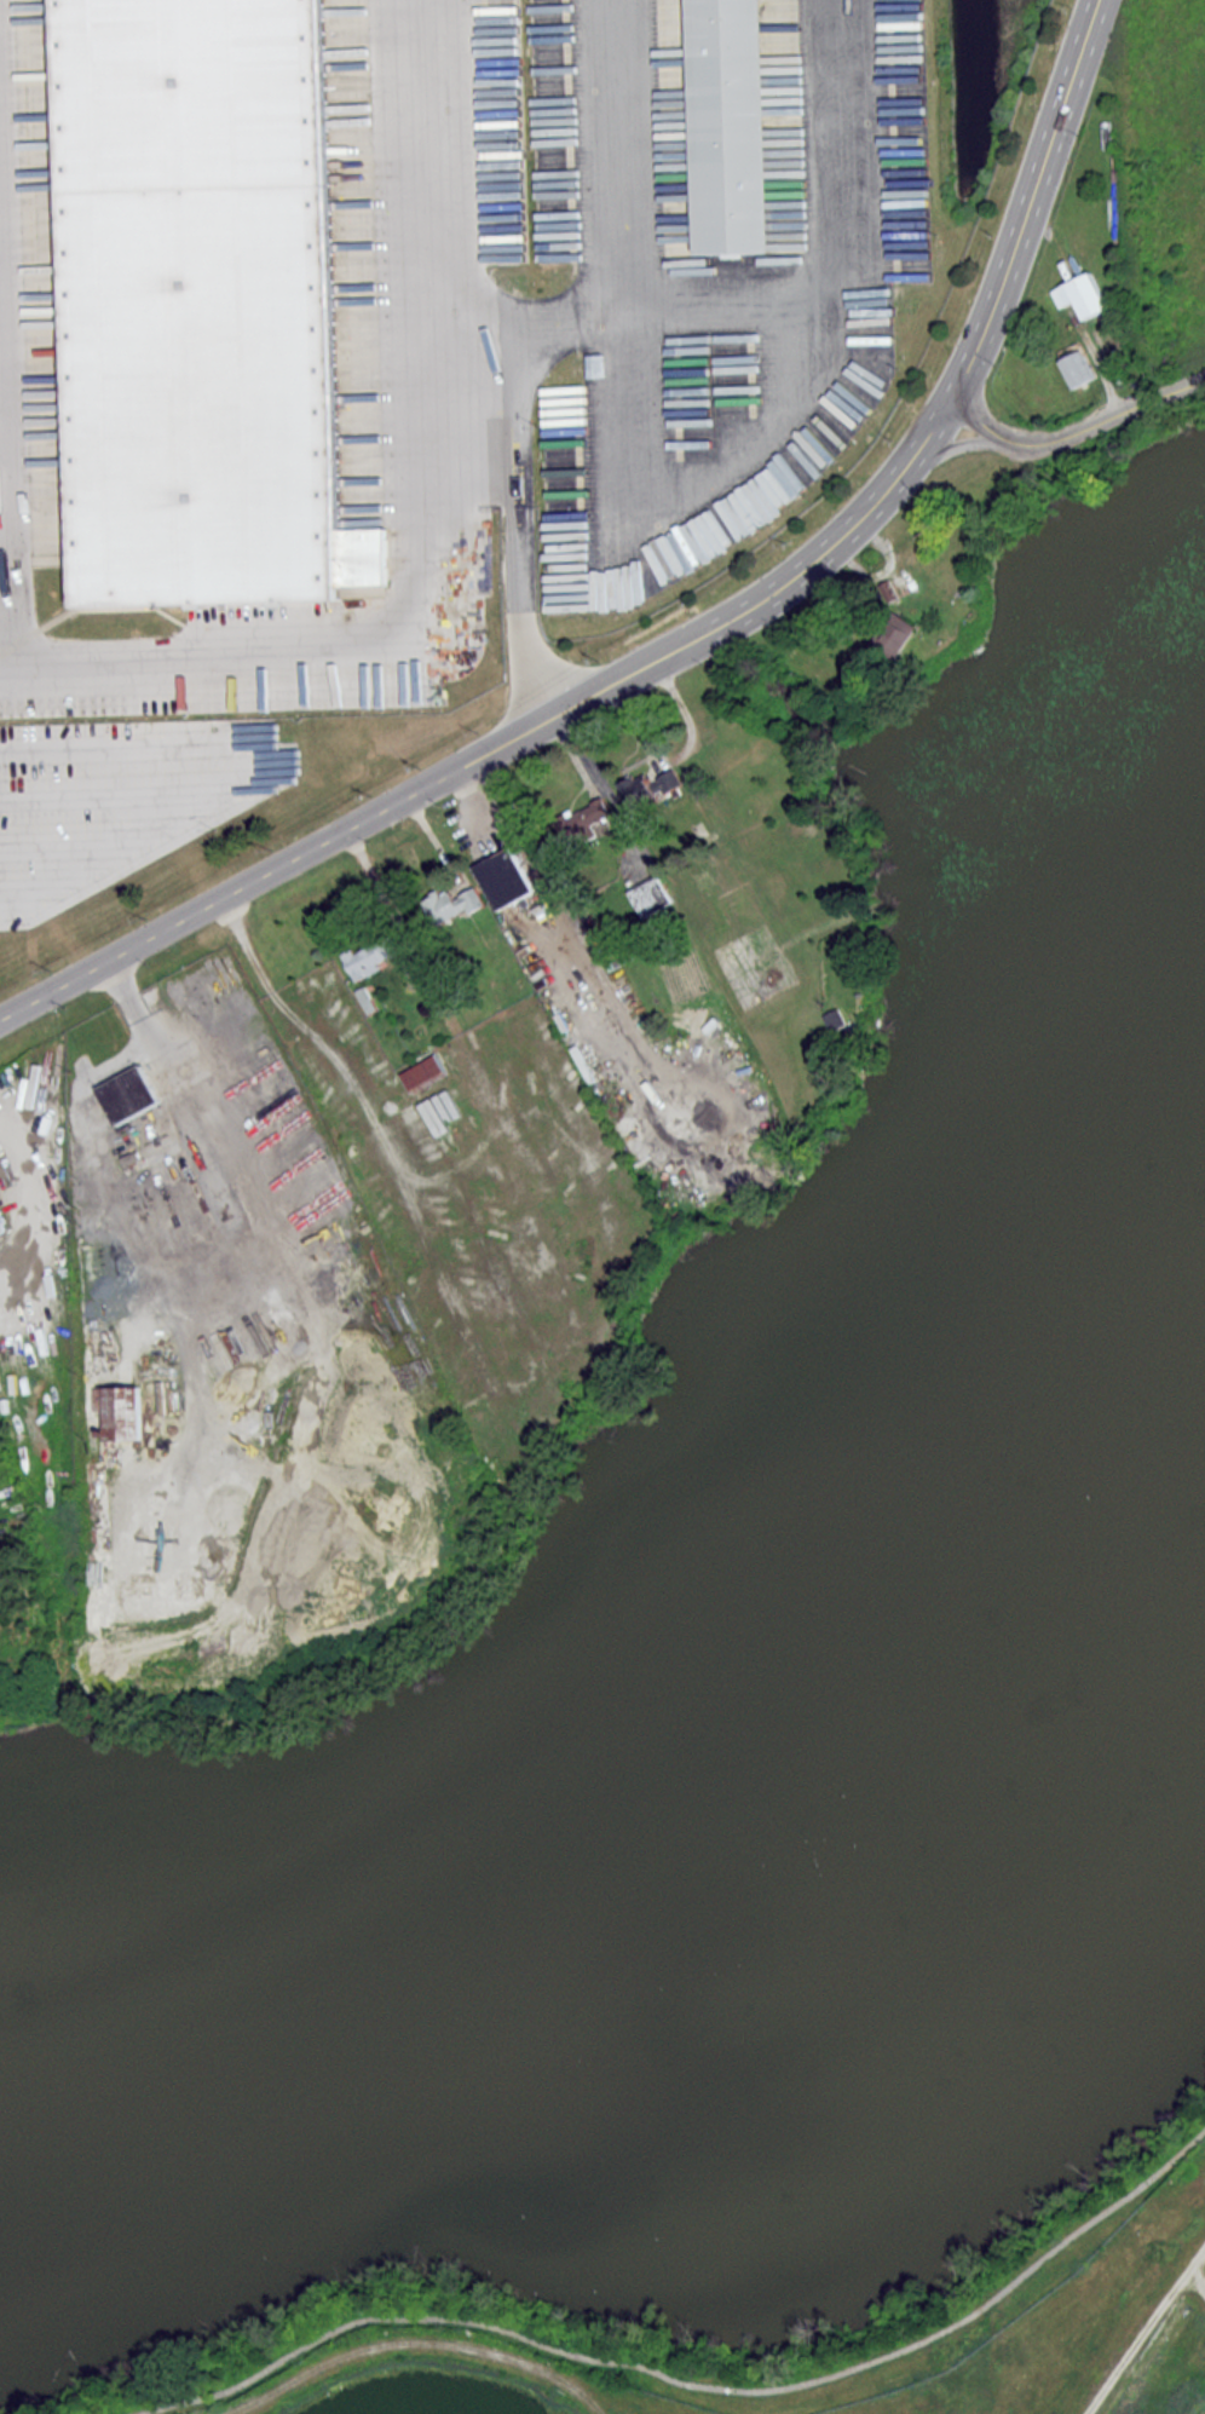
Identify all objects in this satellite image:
building: (737, 125)
road: (1031, 202)
road: (621, 290)
building: (208, 301)
road: (783, 304)
road: (1077, 431)
road: (761, 433)
road: (959, 446)
road: (521, 517)
road: (440, 525)
road: (36, 629)
road: (503, 743)
road: (265, 776)
road: (114, 790)
road: (62, 848)
road: (298, 1020)
road: (1197, 2282)
landfill: (1095, 2329)
road: (1146, 2332)
road: (416, 2340)
landfill: (444, 2380)
road: (693, 2383)

